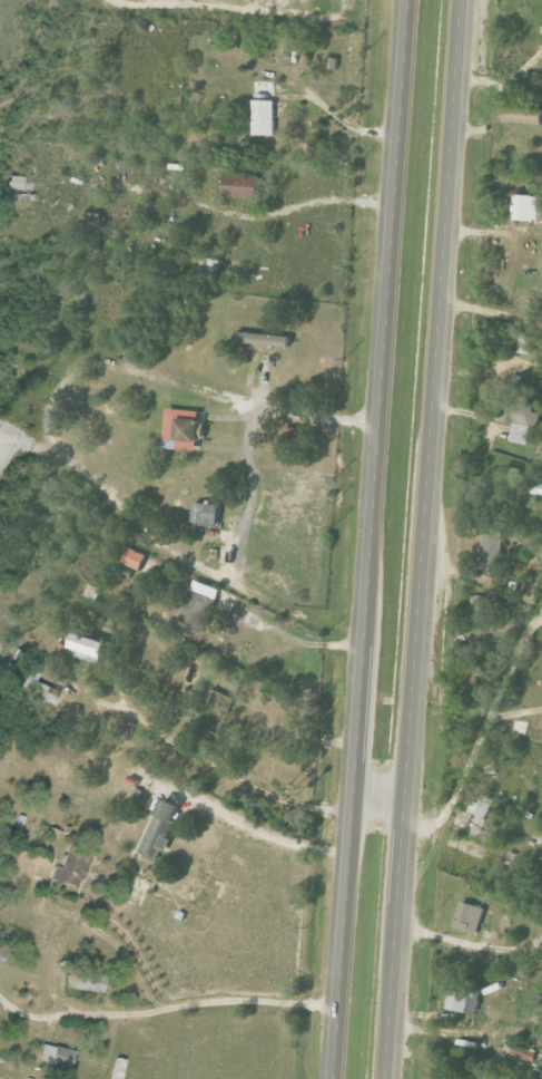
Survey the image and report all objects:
building: (524, 116)
building: (263, 117)
road: (347, 125)
building: (13, 182)
building: (242, 186)
road: (322, 202)
building: (525, 207)
road: (493, 318)
building: (263, 339)
building: (519, 342)
road: (469, 414)
building: (521, 414)
road: (312, 415)
building: (181, 429)
road: (249, 469)
building: (536, 488)
building: (205, 513)
road: (372, 539)
road: (428, 539)
building: (492, 550)
building: (134, 558)
building: (200, 604)
road: (296, 635)
building: (88, 649)
road: (510, 665)
building: (37, 690)
road: (513, 712)
road: (229, 778)
road: (456, 786)
road: (383, 801)
building: (477, 810)
building: (160, 829)
road: (268, 835)
building: (27, 863)
building: (71, 865)
building: (469, 917)
road: (470, 944)
road: (137, 952)
building: (86, 981)
building: (464, 997)
road: (167, 1004)
building: (520, 1051)
building: (53, 1056)

